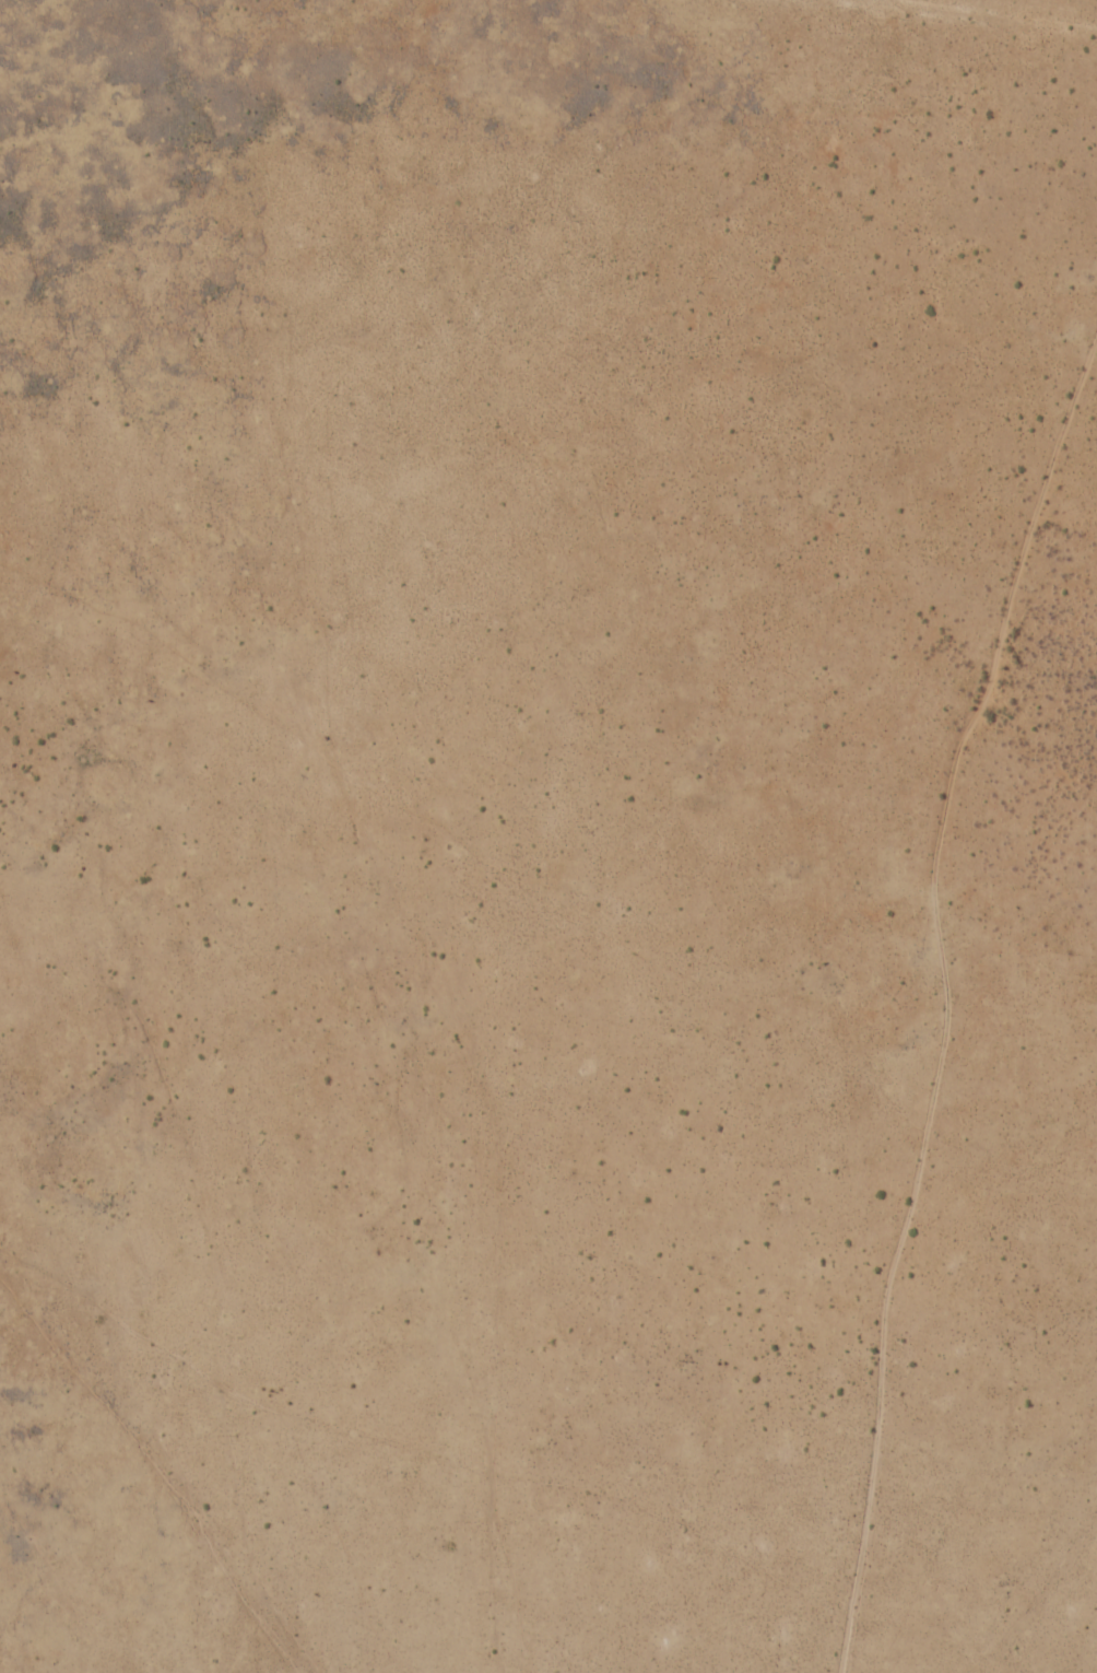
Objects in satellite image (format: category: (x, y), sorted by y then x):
road: (970, 1068)

